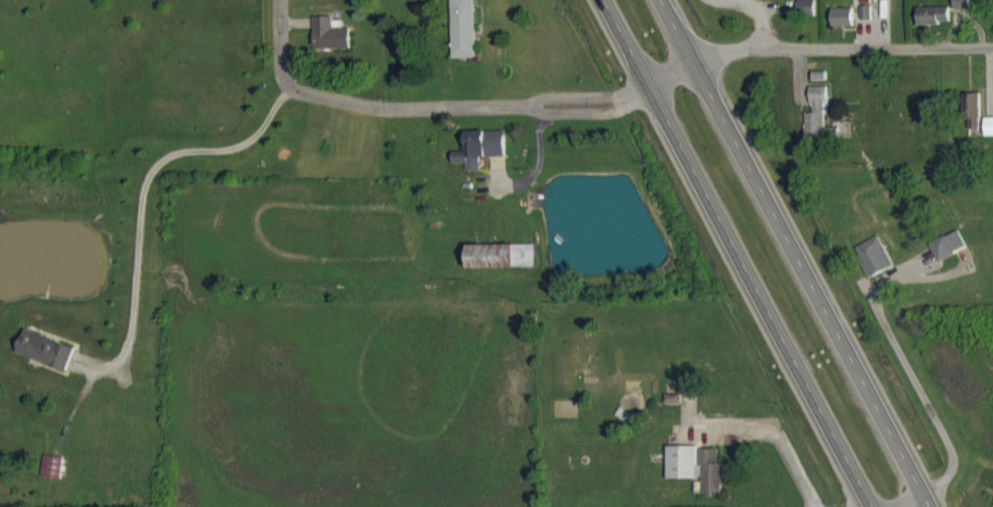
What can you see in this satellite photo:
building: (320, 0)
building: (960, 11)
road: (759, 17)
building: (805, 18)
building: (865, 24)
building: (932, 26)
building: (842, 28)
building: (463, 37)
road: (841, 42)
road: (278, 43)
building: (329, 46)
road: (503, 104)
building: (971, 122)
building: (819, 128)
building: (989, 137)
building: (481, 159)
road: (144, 193)
road: (800, 253)
road: (729, 254)
building: (947, 256)
building: (501, 267)
building: (873, 267)
building: (45, 361)
road: (914, 372)
building: (672, 410)
road: (787, 444)
building: (51, 478)
building: (697, 478)
road: (910, 500)

